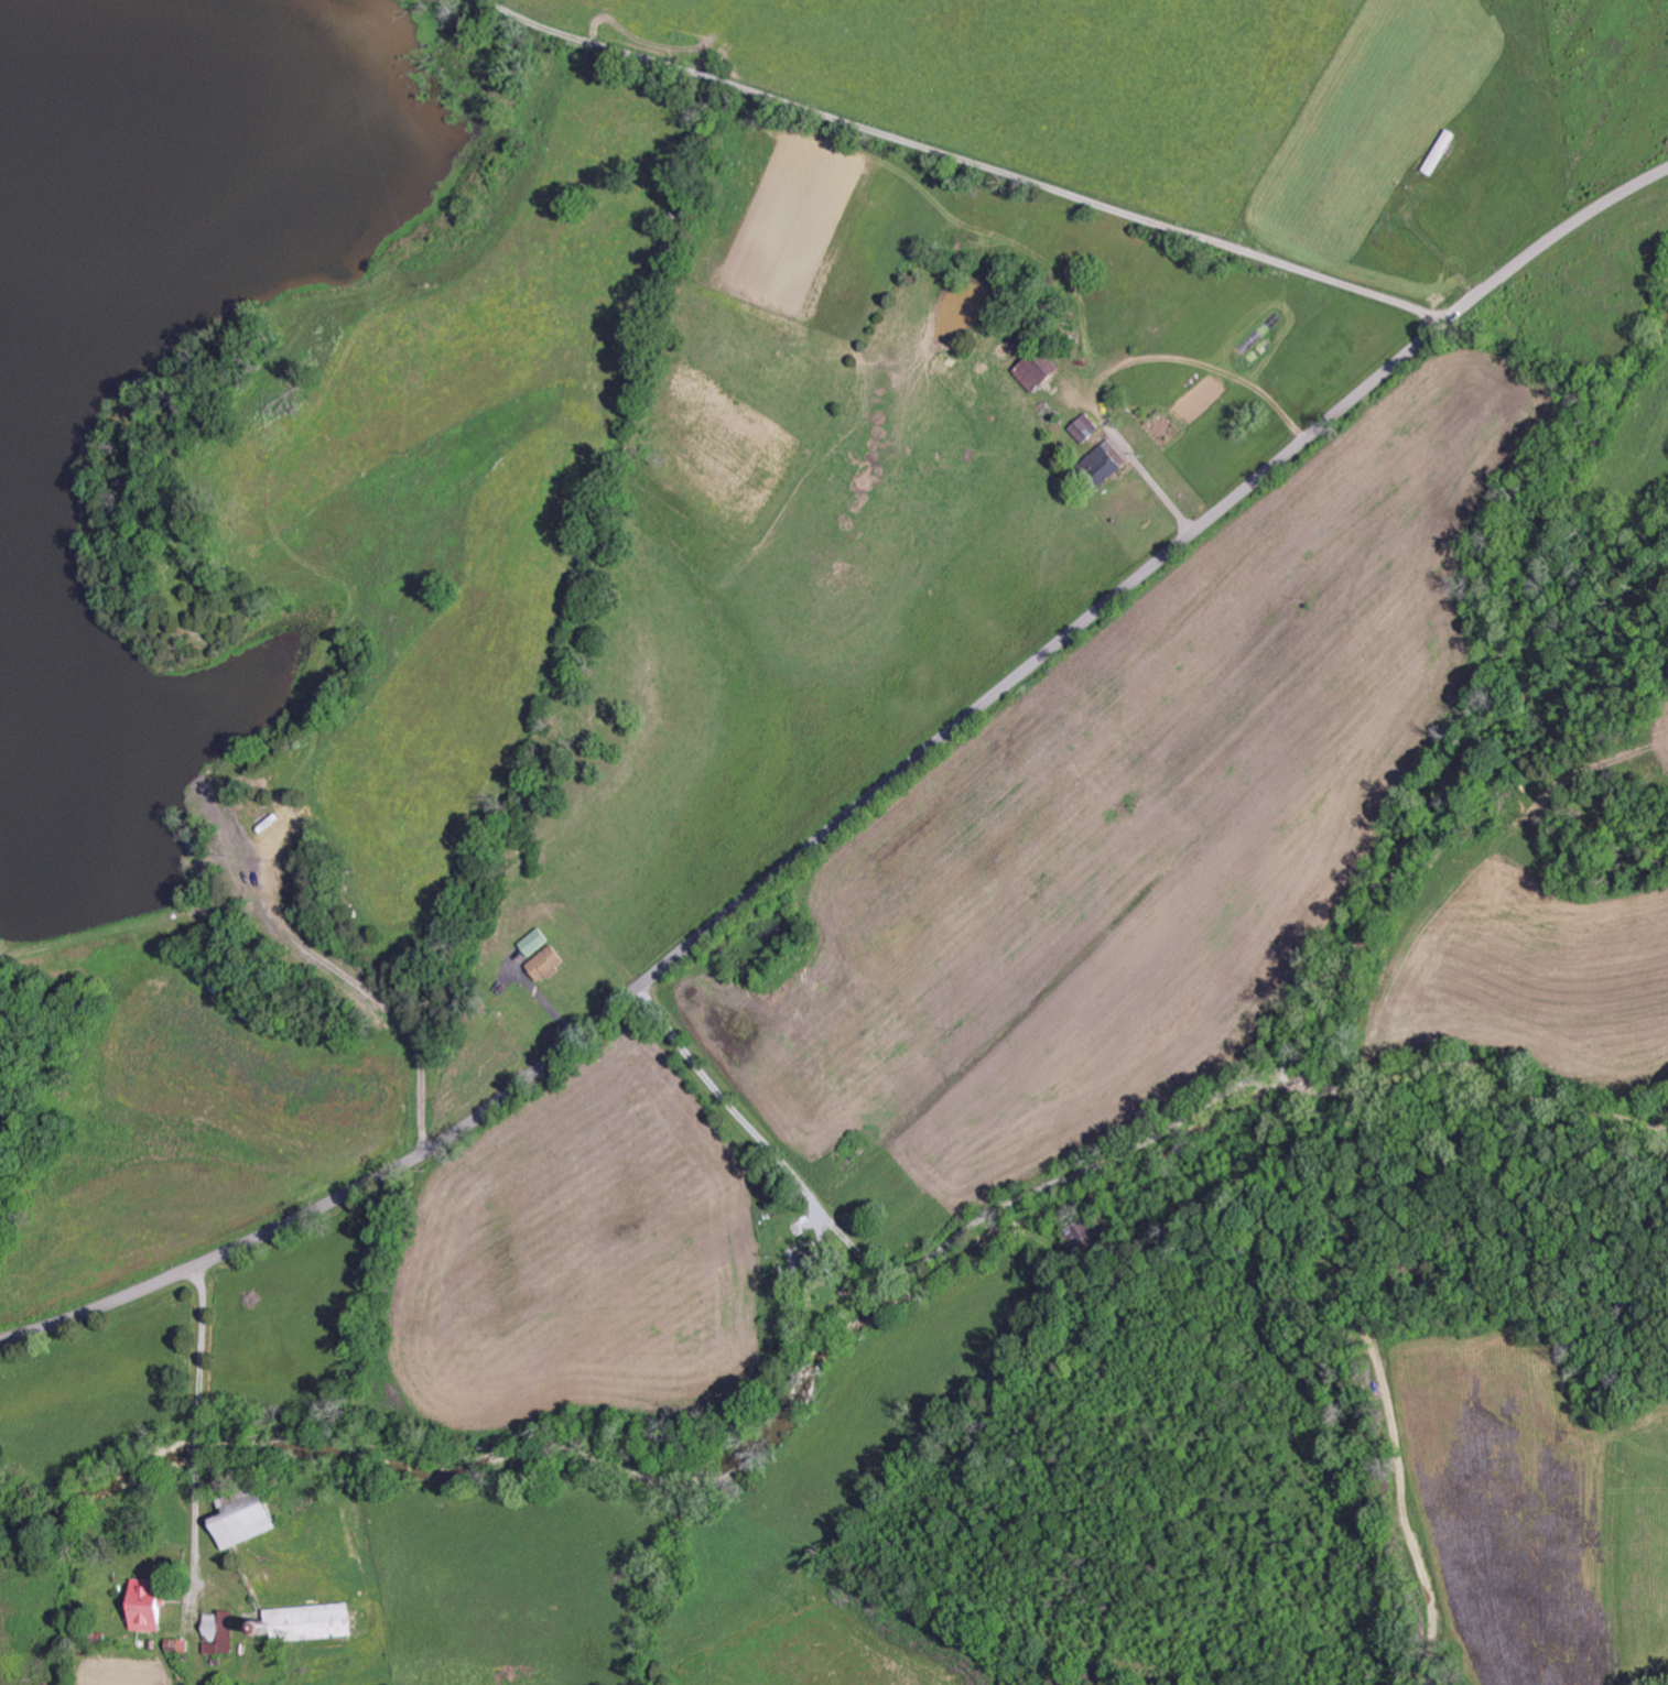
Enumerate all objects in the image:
building: (1028, 369)
road: (863, 802)
building: (533, 939)
building: (546, 961)
road: (1093, 1162)
building: (813, 1259)
road: (226, 1466)
building: (250, 1519)
building: (151, 1604)
building: (312, 1620)
building: (220, 1631)
building: (177, 1643)

